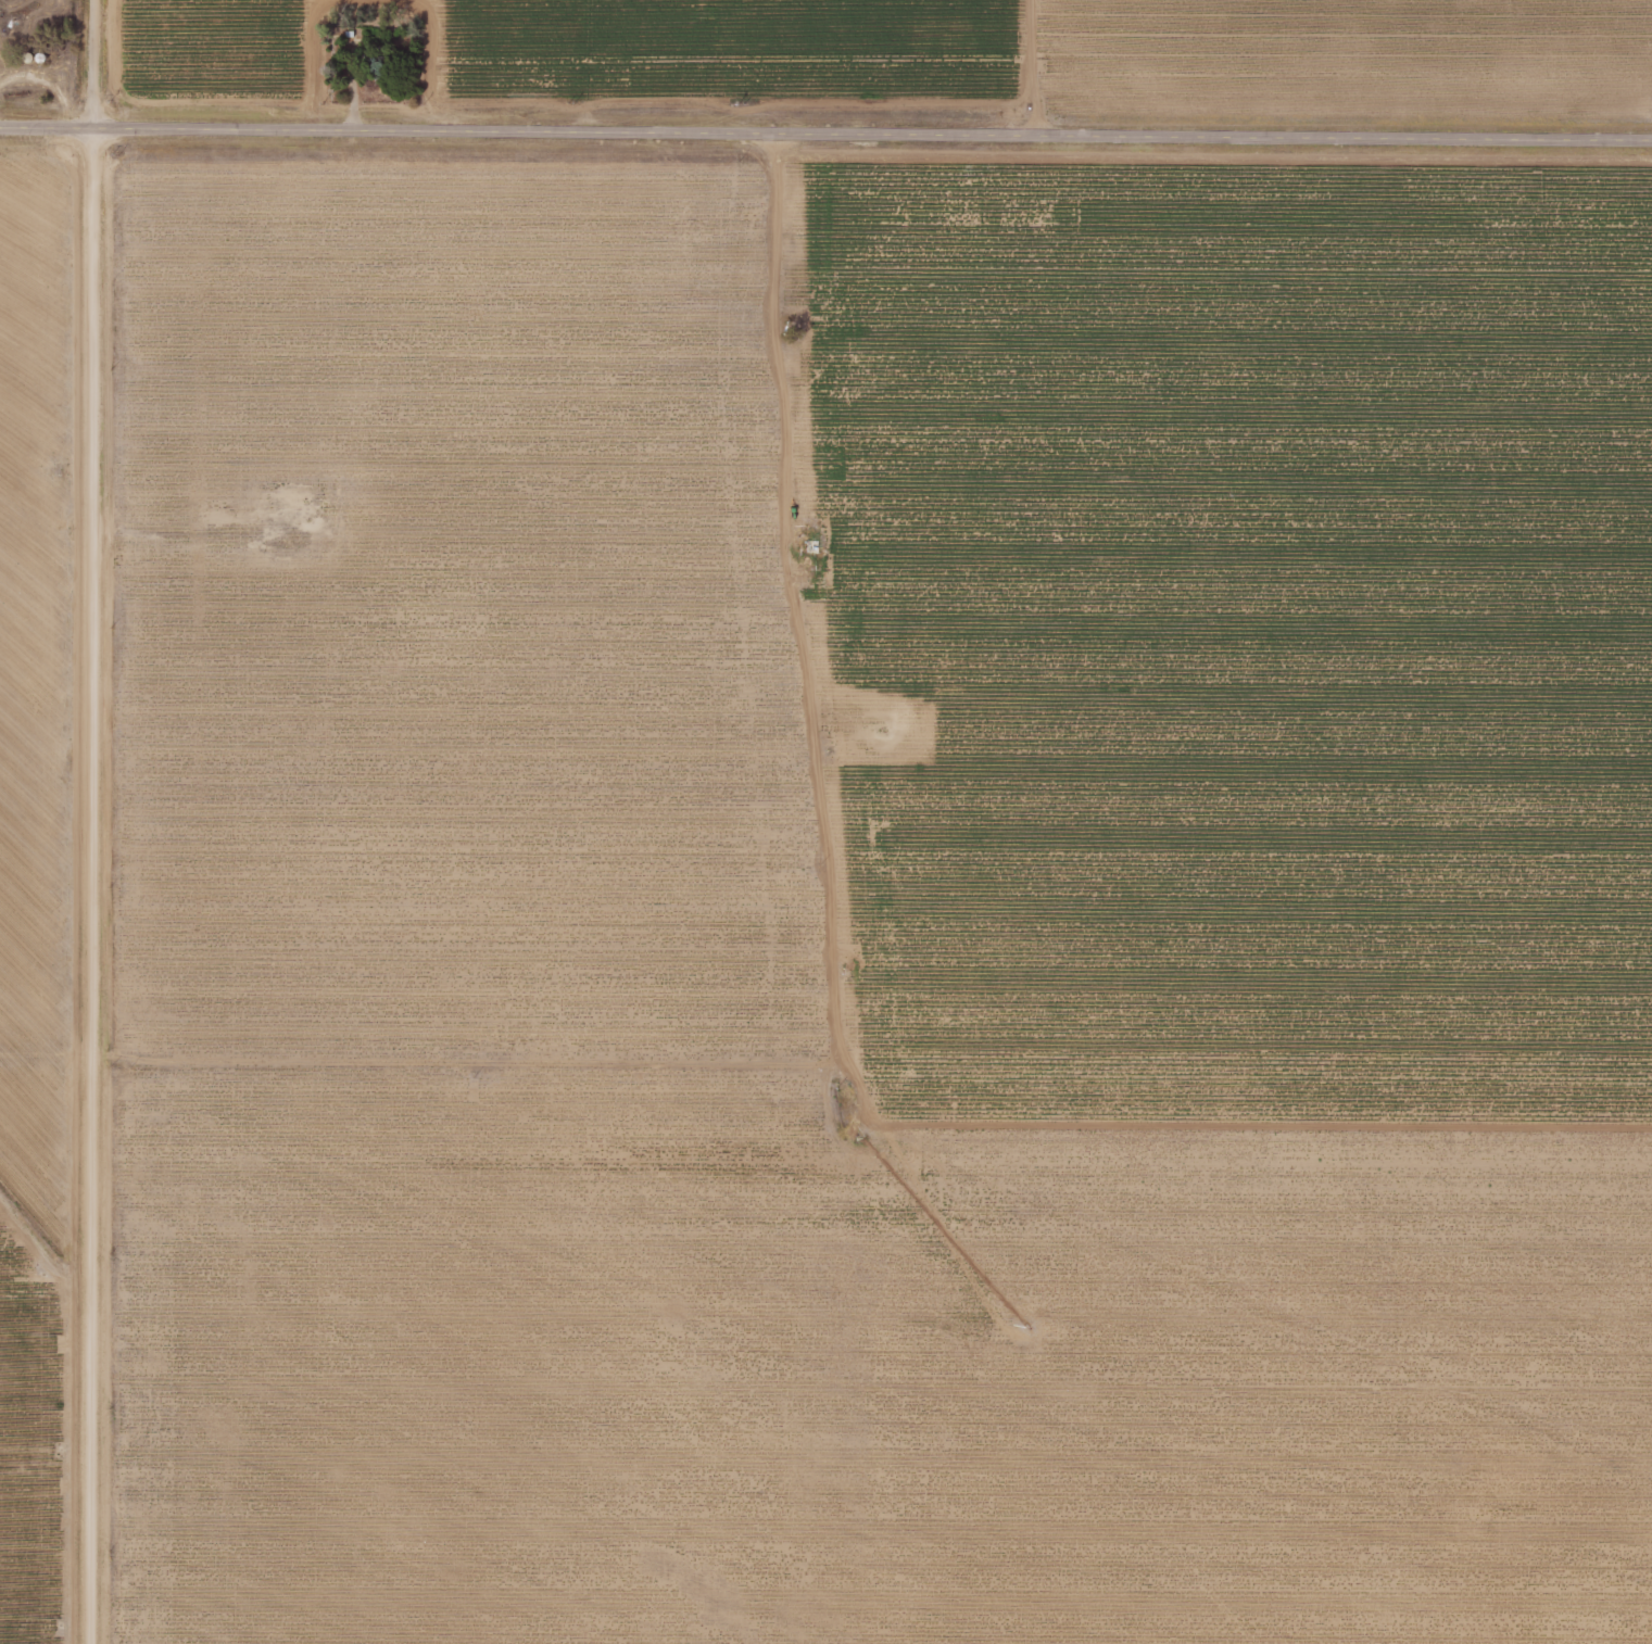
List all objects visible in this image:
road: (825, 141)
road: (96, 821)

